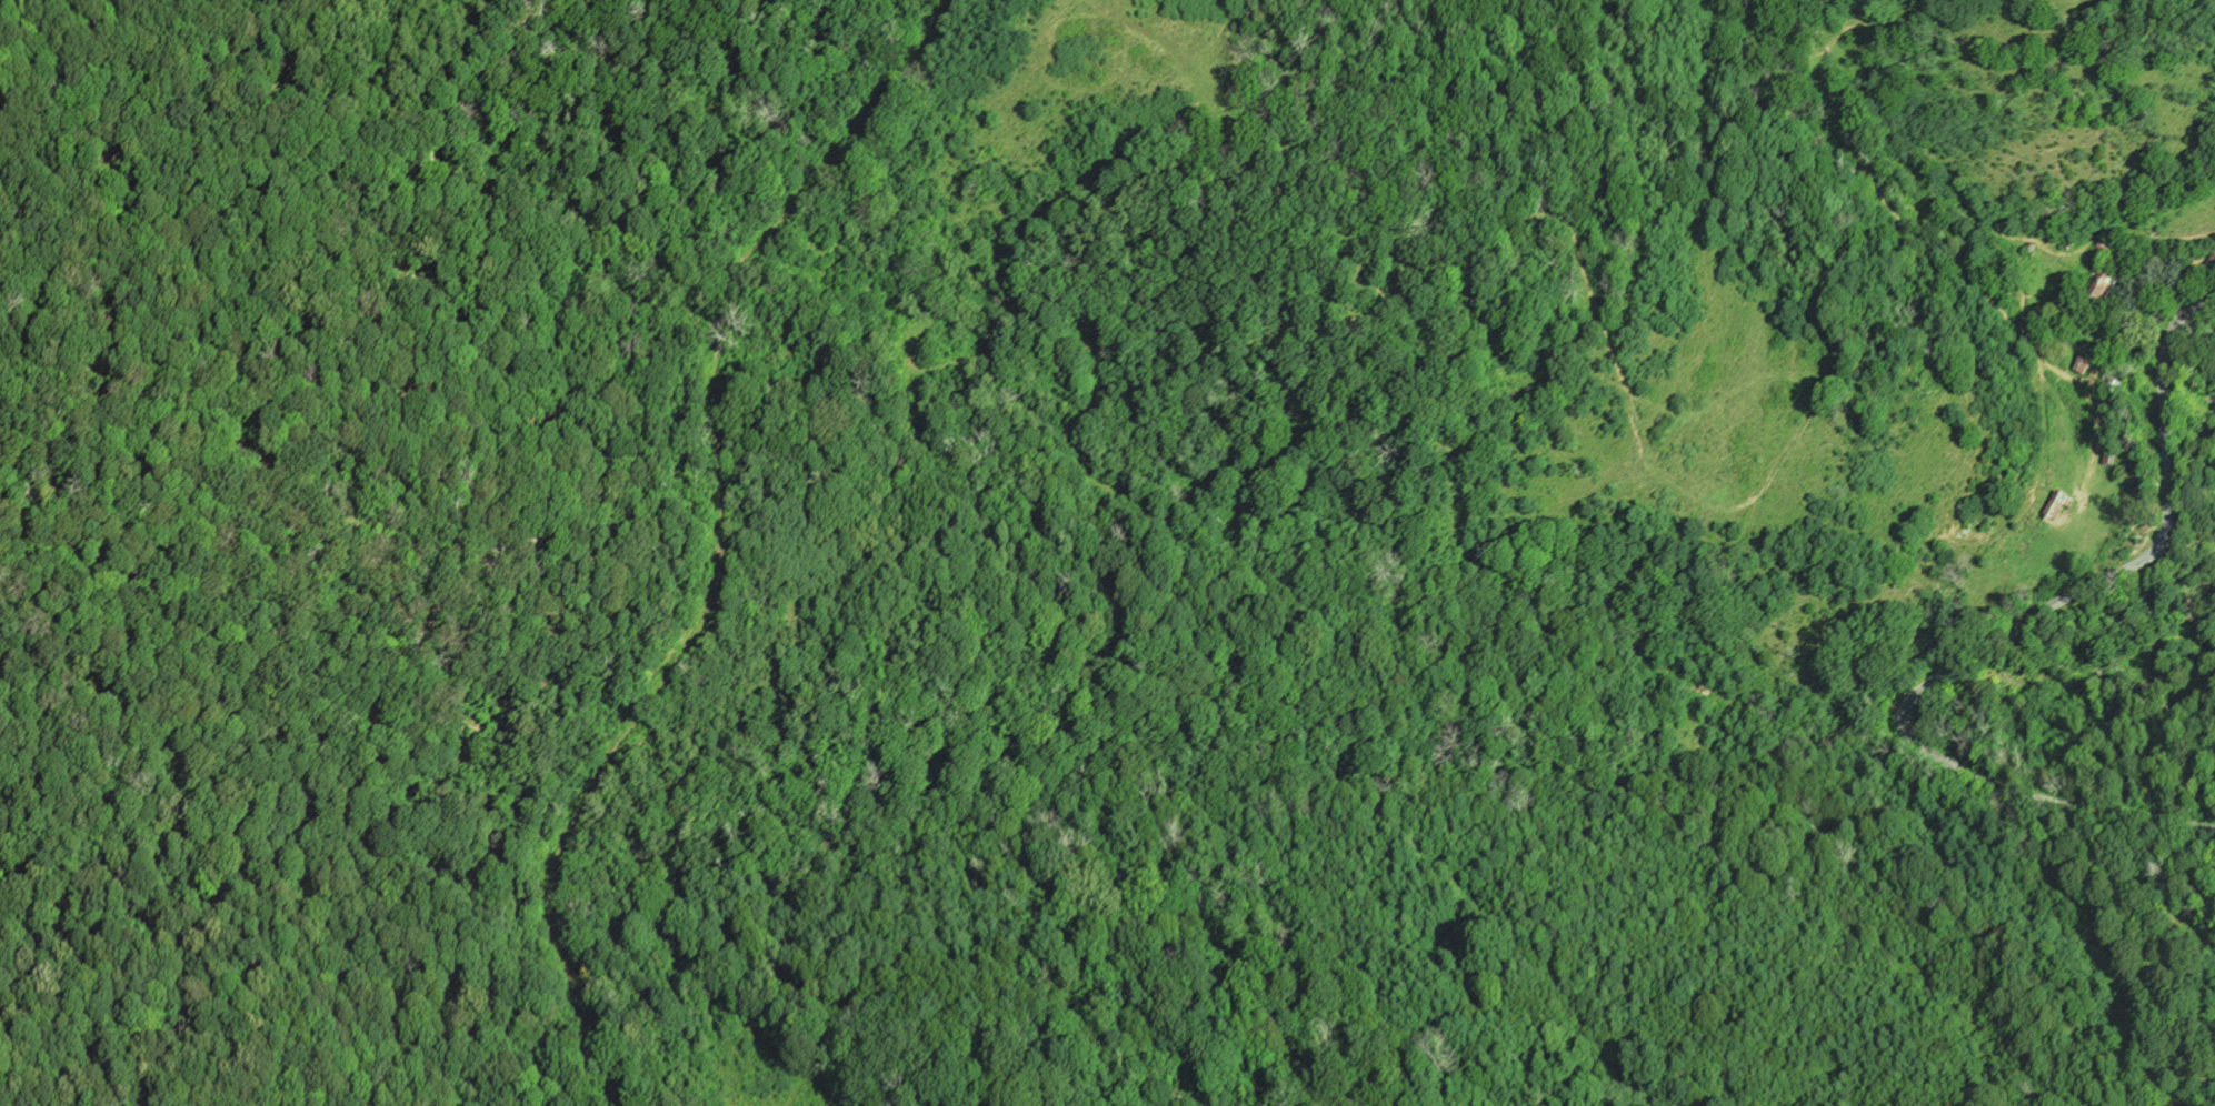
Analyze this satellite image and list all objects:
building: (2099, 289)
building: (2056, 507)
road: (1995, 645)

